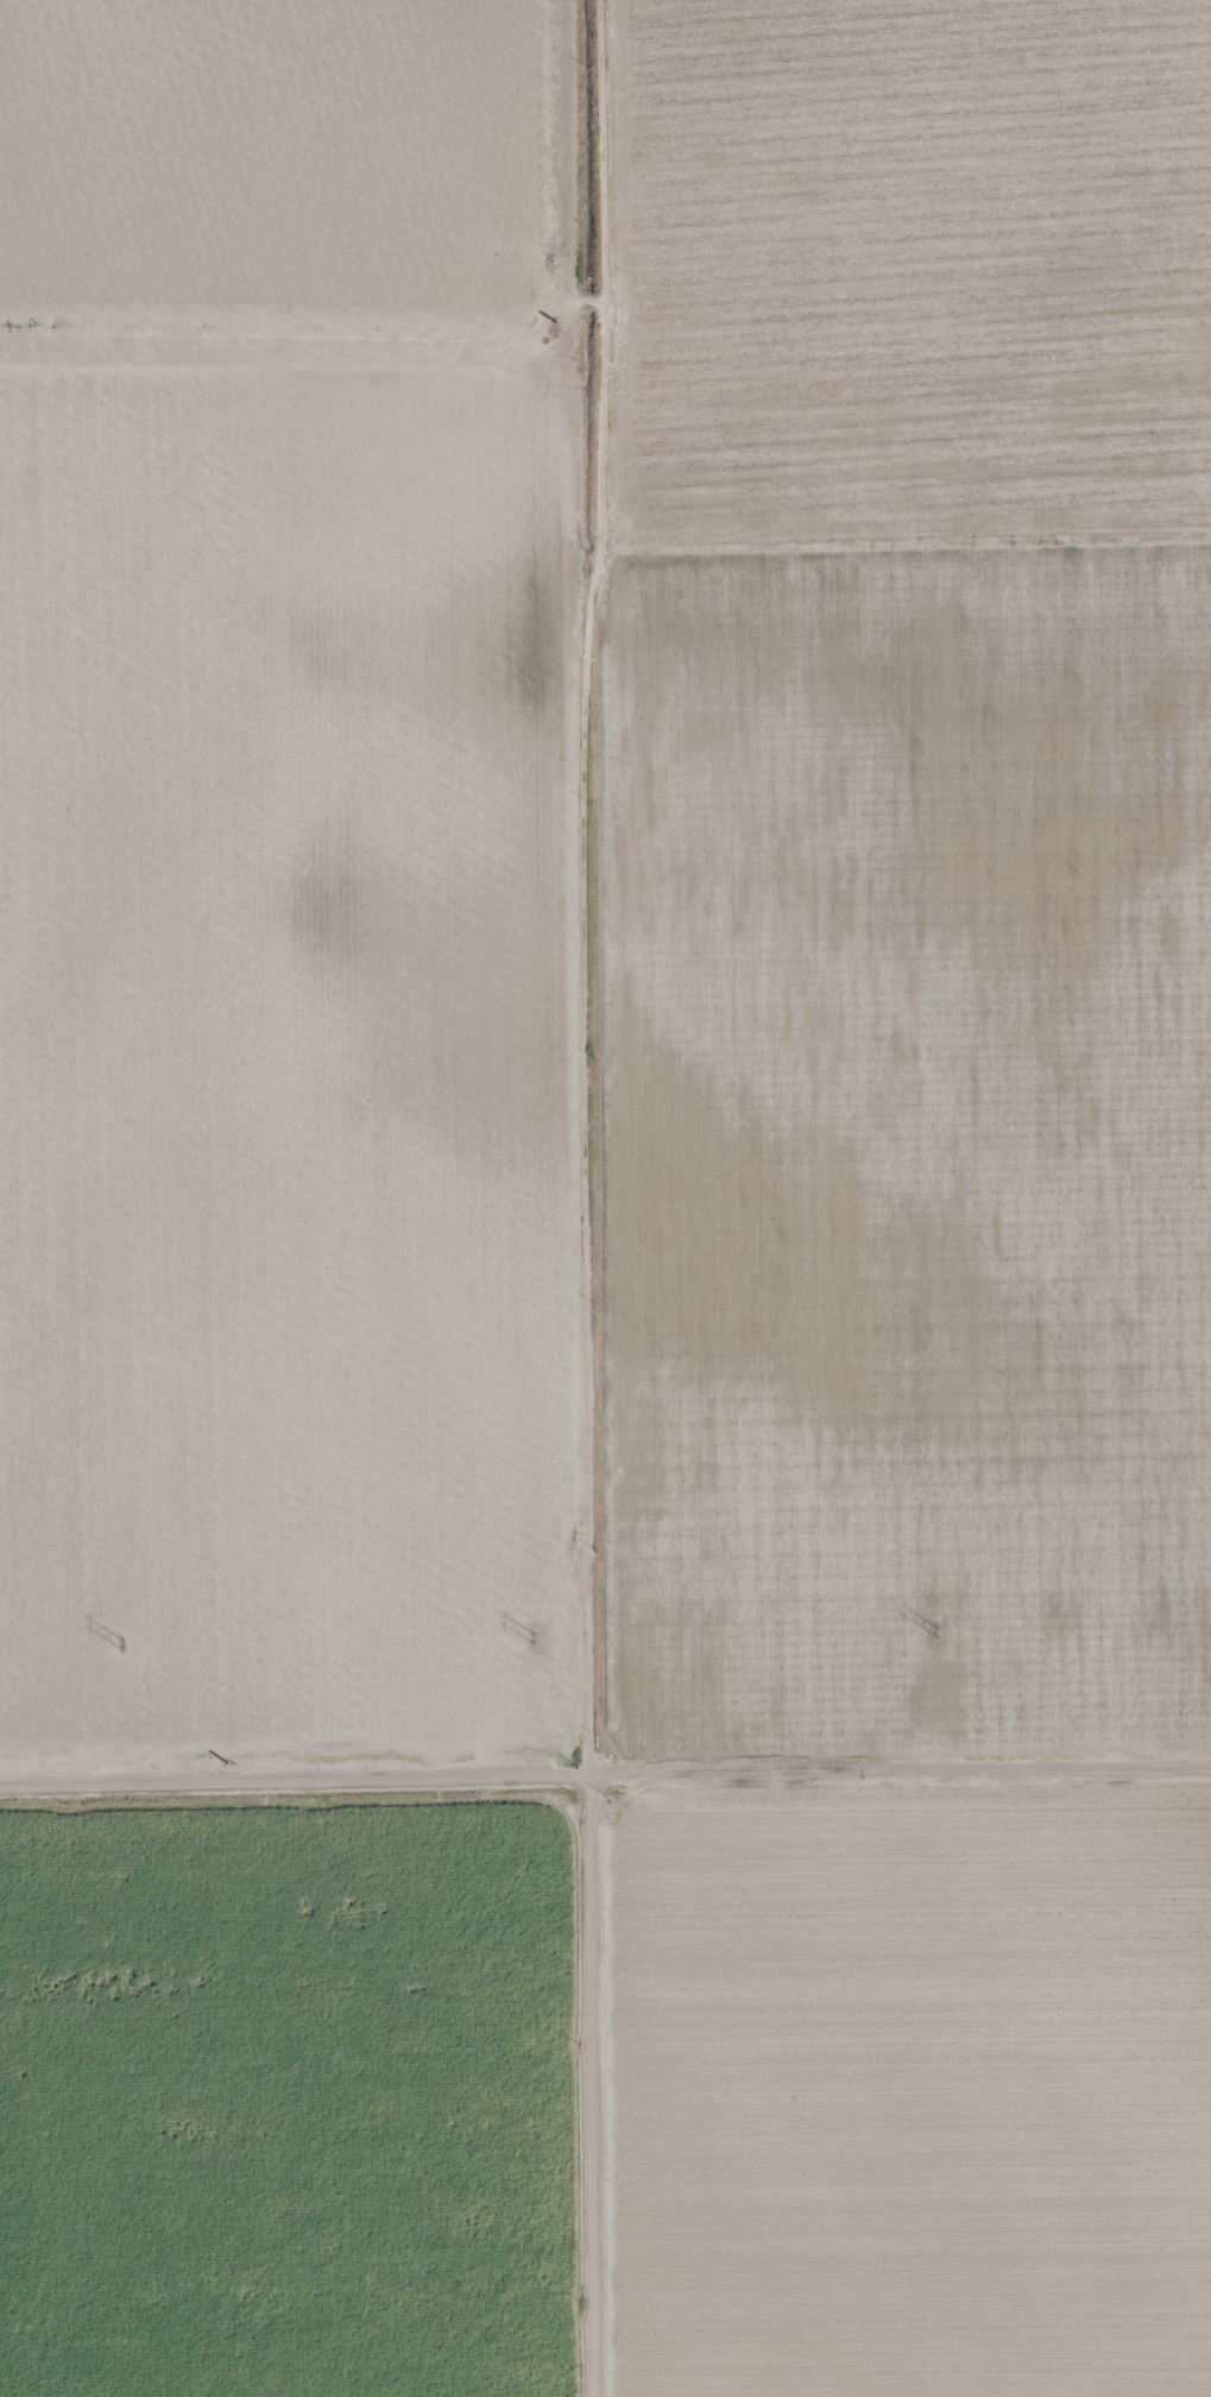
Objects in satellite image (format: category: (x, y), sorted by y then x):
road: (591, 1198)
power tower: (936, 1631)
power tower: (534, 1637)
power tower: (122, 1644)
road: (605, 1780)

